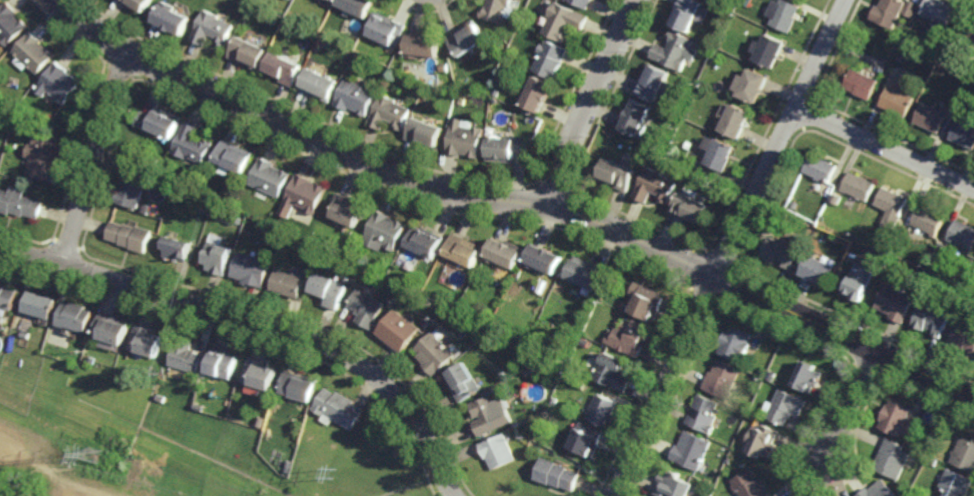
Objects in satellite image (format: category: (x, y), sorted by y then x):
building: (331, 0)
building: (586, 2)
building: (139, 3)
building: (358, 6)
building: (498, 10)
building: (940, 10)
building: (889, 12)
building: (690, 13)
building: (789, 15)
building: (170, 18)
building: (566, 21)
building: (10, 24)
building: (967, 25)
building: (212, 28)
building: (387, 28)
building: (903, 34)
building: (469, 38)
building: (898, 39)
building: (908, 45)
building: (424, 46)
building: (679, 50)
building: (773, 50)
building: (32, 53)
building: (248, 53)
building: (553, 60)
building: (445, 67)
building: (284, 68)
building: (967, 72)
building: (918, 74)
building: (57, 82)
building: (658, 83)
building: (862, 83)
building: (319, 85)
building: (755, 85)
building: (973, 87)
building: (497, 92)
building: (541, 94)
building: (355, 97)
building: (898, 100)
road: (590, 101)
building: (464, 102)
building: (390, 113)
building: (932, 117)
building: (638, 118)
building: (740, 121)
building: (158, 122)
building: (15, 124)
building: (425, 132)
building: (964, 133)
building: (466, 139)
building: (190, 145)
road: (886, 147)
building: (507, 148)
building: (40, 154)
building: (724, 155)
building: (233, 156)
road: (92, 158)
building: (822, 169)
building: (619, 175)
building: (268, 177)
building: (657, 186)
building: (858, 186)
building: (129, 190)
building: (304, 194)
building: (837, 198)
building: (229, 199)
road: (513, 200)
building: (18, 203)
building: (798, 205)
building: (693, 206)
building: (891, 207)
building: (143, 208)
building: (347, 210)
building: (237, 220)
building: (929, 220)
building: (384, 231)
building: (128, 235)
building: (962, 235)
building: (425, 241)
building: (942, 246)
building: (877, 247)
road: (731, 248)
building: (174, 249)
building: (463, 250)
building: (885, 250)
building: (788, 251)
building: (505, 252)
building: (215, 258)
building: (544, 259)
building: (290, 268)
building: (249, 269)
building: (518, 271)
building: (820, 272)
building: (587, 273)
building: (286, 283)
building: (858, 283)
building: (328, 290)
building: (7, 296)
building: (895, 303)
building: (39, 304)
building: (651, 304)
building: (365, 308)
building: (74, 316)
building: (932, 321)
road: (260, 323)
building: (426, 324)
building: (112, 329)
building: (398, 331)
building: (964, 338)
building: (633, 339)
building: (146, 342)
building: (737, 344)
building: (565, 348)
building: (434, 354)
building: (186, 356)
building: (534, 356)
building: (91, 359)
building: (223, 364)
building: (780, 369)
building: (152, 370)
building: (614, 373)
building: (764, 374)
building: (260, 375)
building: (775, 376)
building: (809, 379)
building: (724, 380)
building: (462, 382)
building: (299, 387)
building: (159, 398)
building: (555, 401)
road: (851, 405)
building: (786, 406)
building: (338, 407)
building: (603, 409)
building: (704, 414)
building: (489, 416)
building: (893, 417)
building: (261, 421)
building: (585, 438)
building: (762, 438)
building: (496, 449)
building: (691, 449)
building: (964, 453)
power tower: (92, 456)
building: (890, 457)
building: (932, 460)
building: (289, 463)
power tower: (334, 471)
building: (556, 472)
building: (953, 482)
building: (673, 483)
building: (750, 484)
building: (875, 490)

